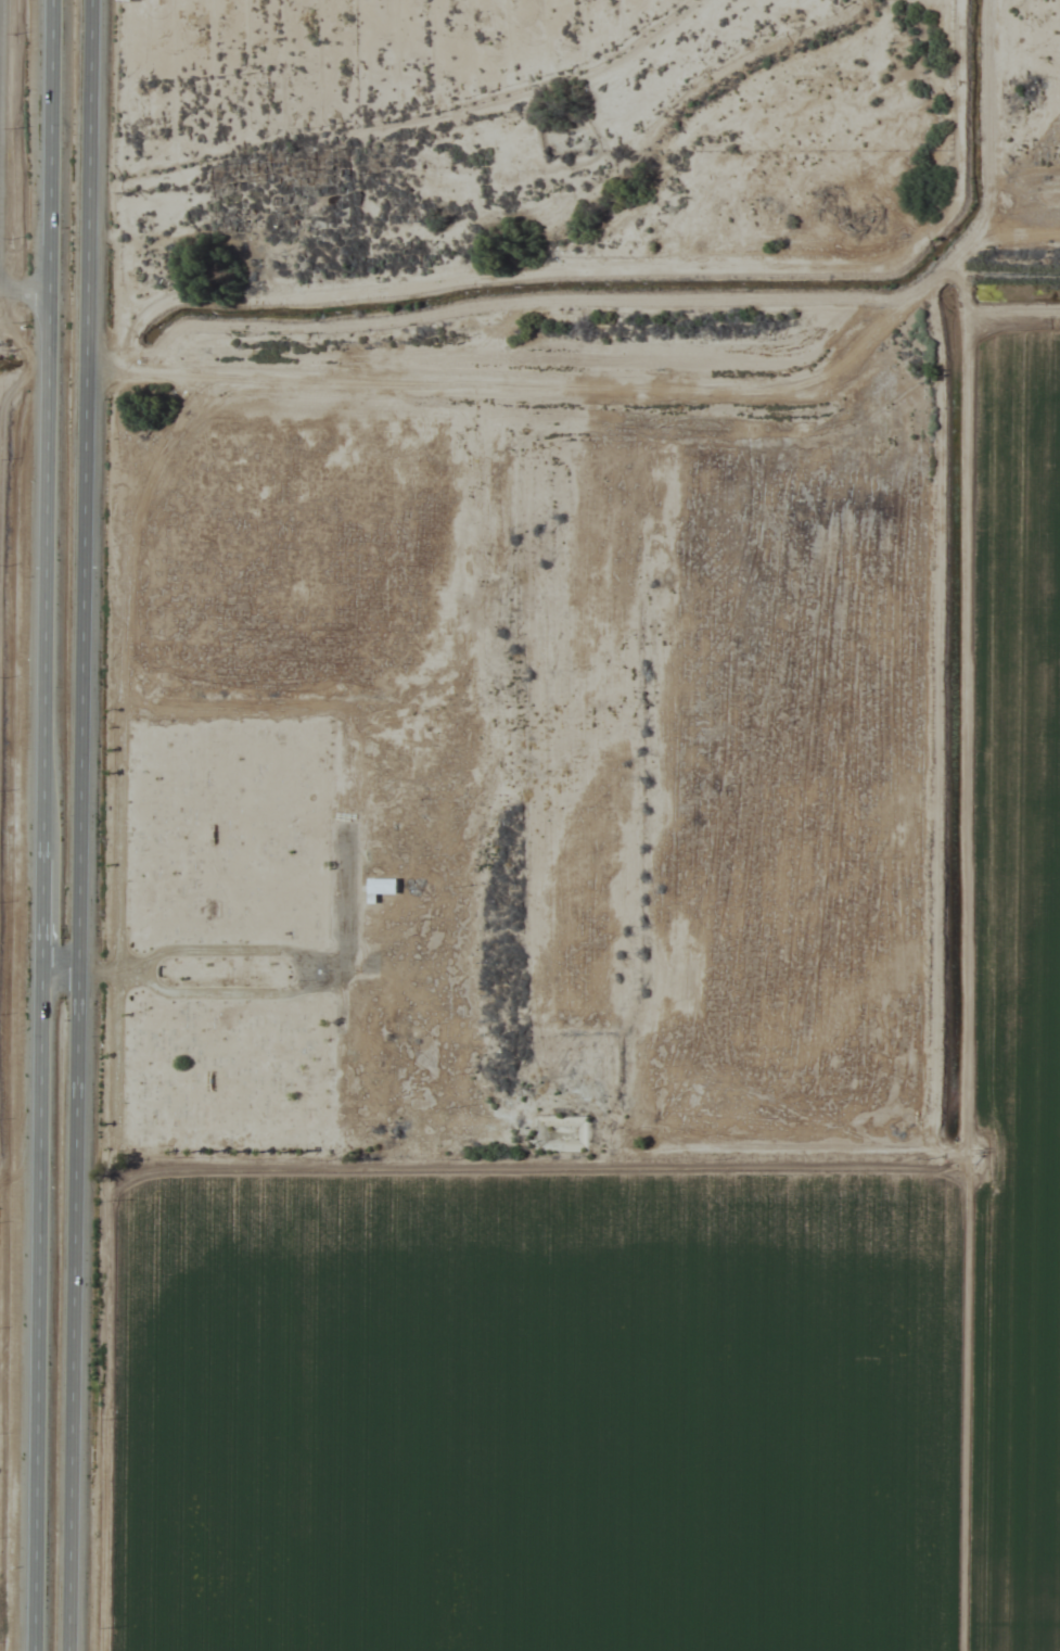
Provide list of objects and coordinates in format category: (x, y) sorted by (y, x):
road: (21, 294)
road: (35, 825)
road: (76, 825)
building: (381, 888)
park: (235, 924)

